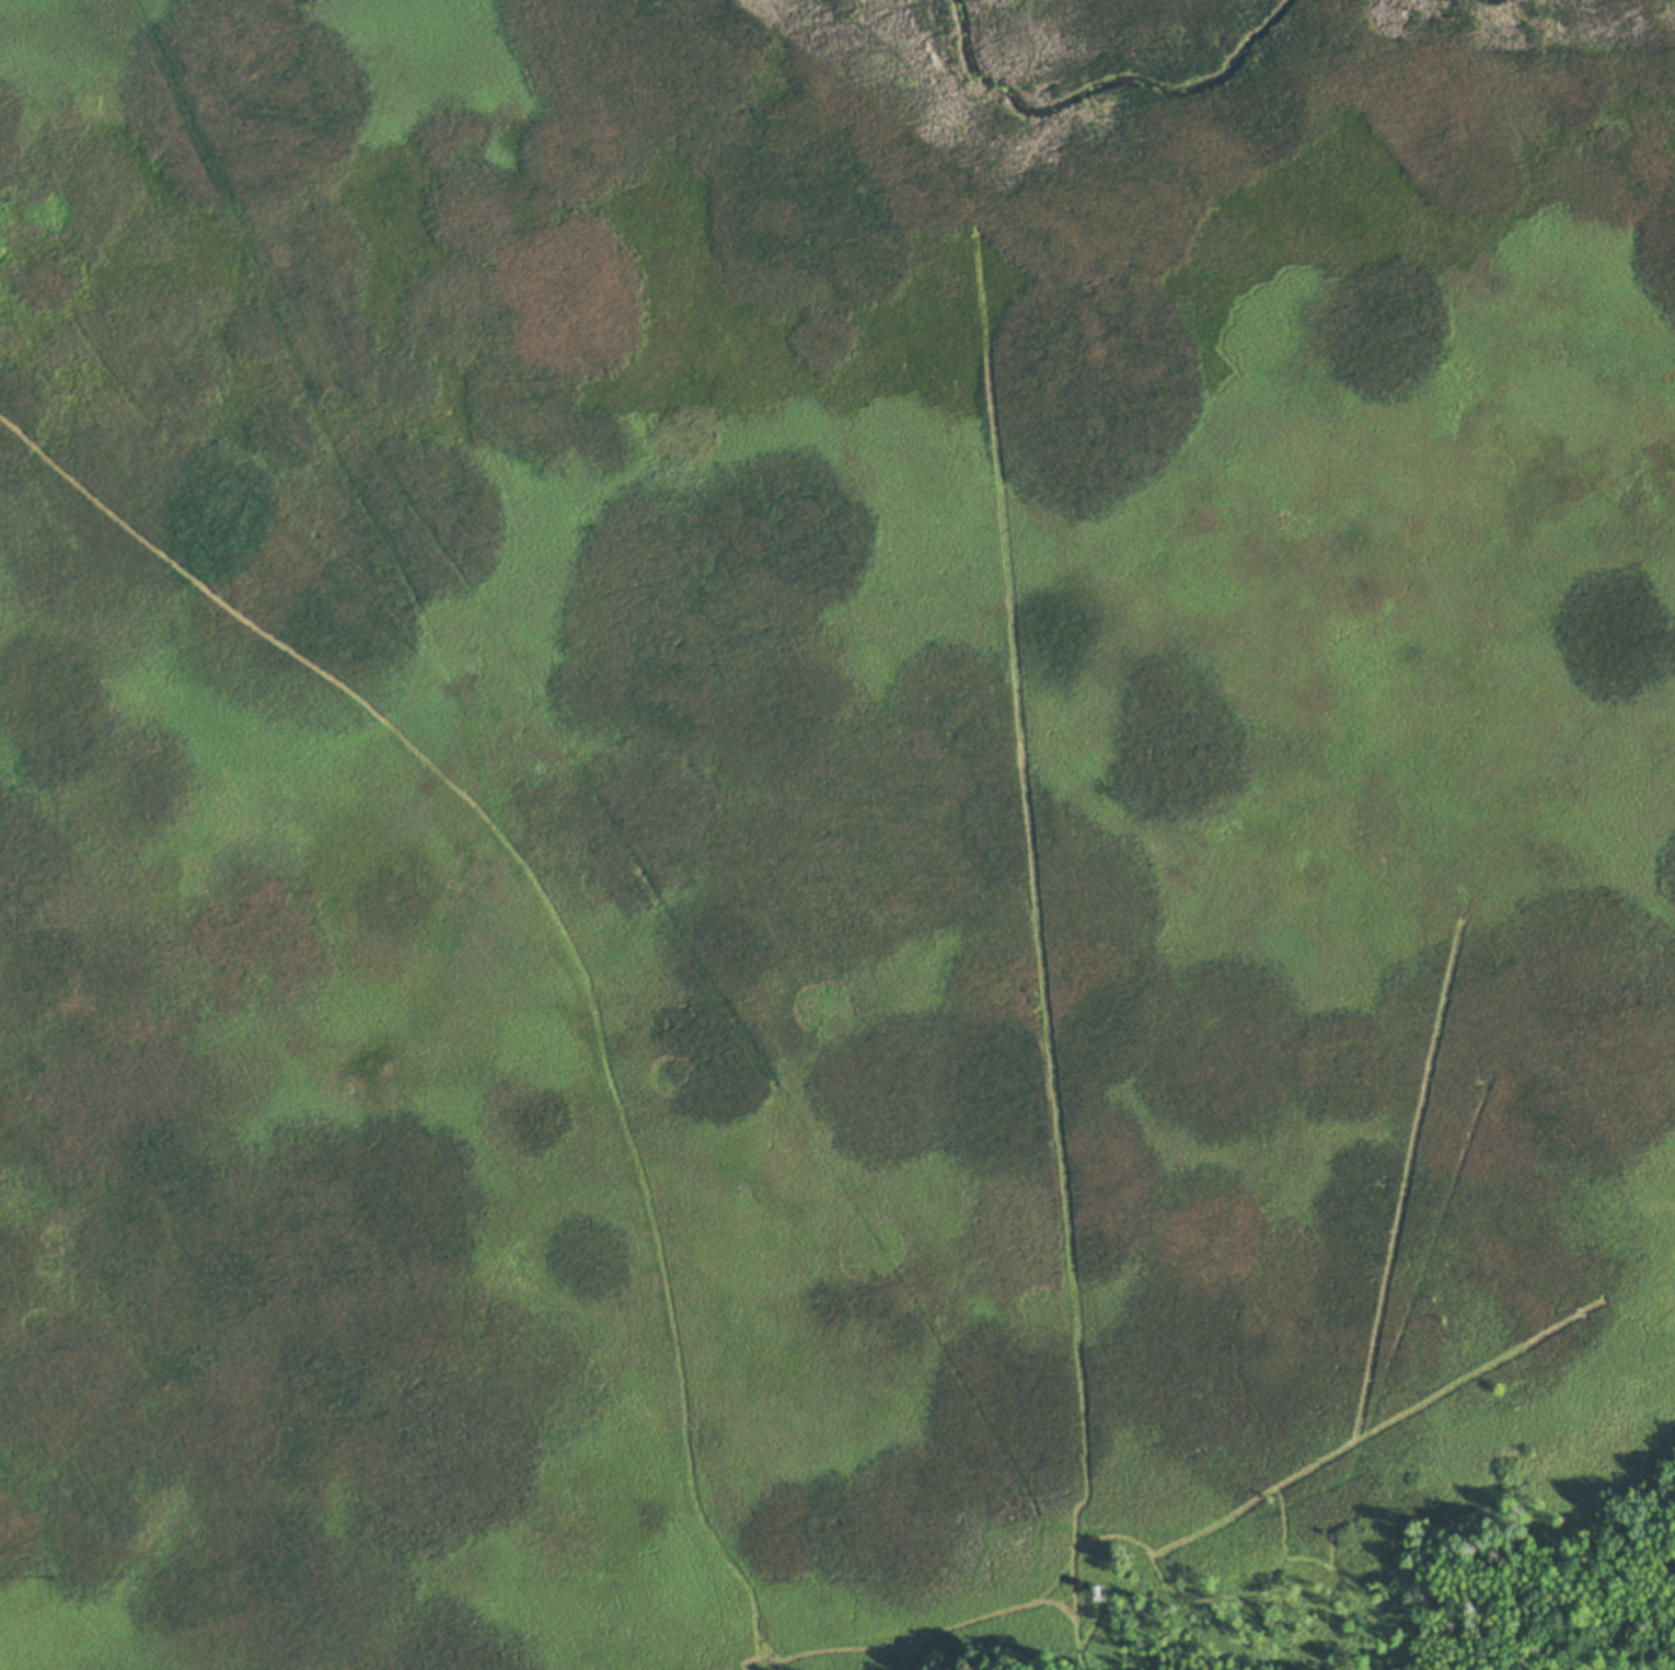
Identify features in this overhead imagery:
river: (1460, 0)
river: (985, 71)
river: (1187, 83)
building: (1335, 1535)
building: (1104, 1587)
building: (1102, 1592)

